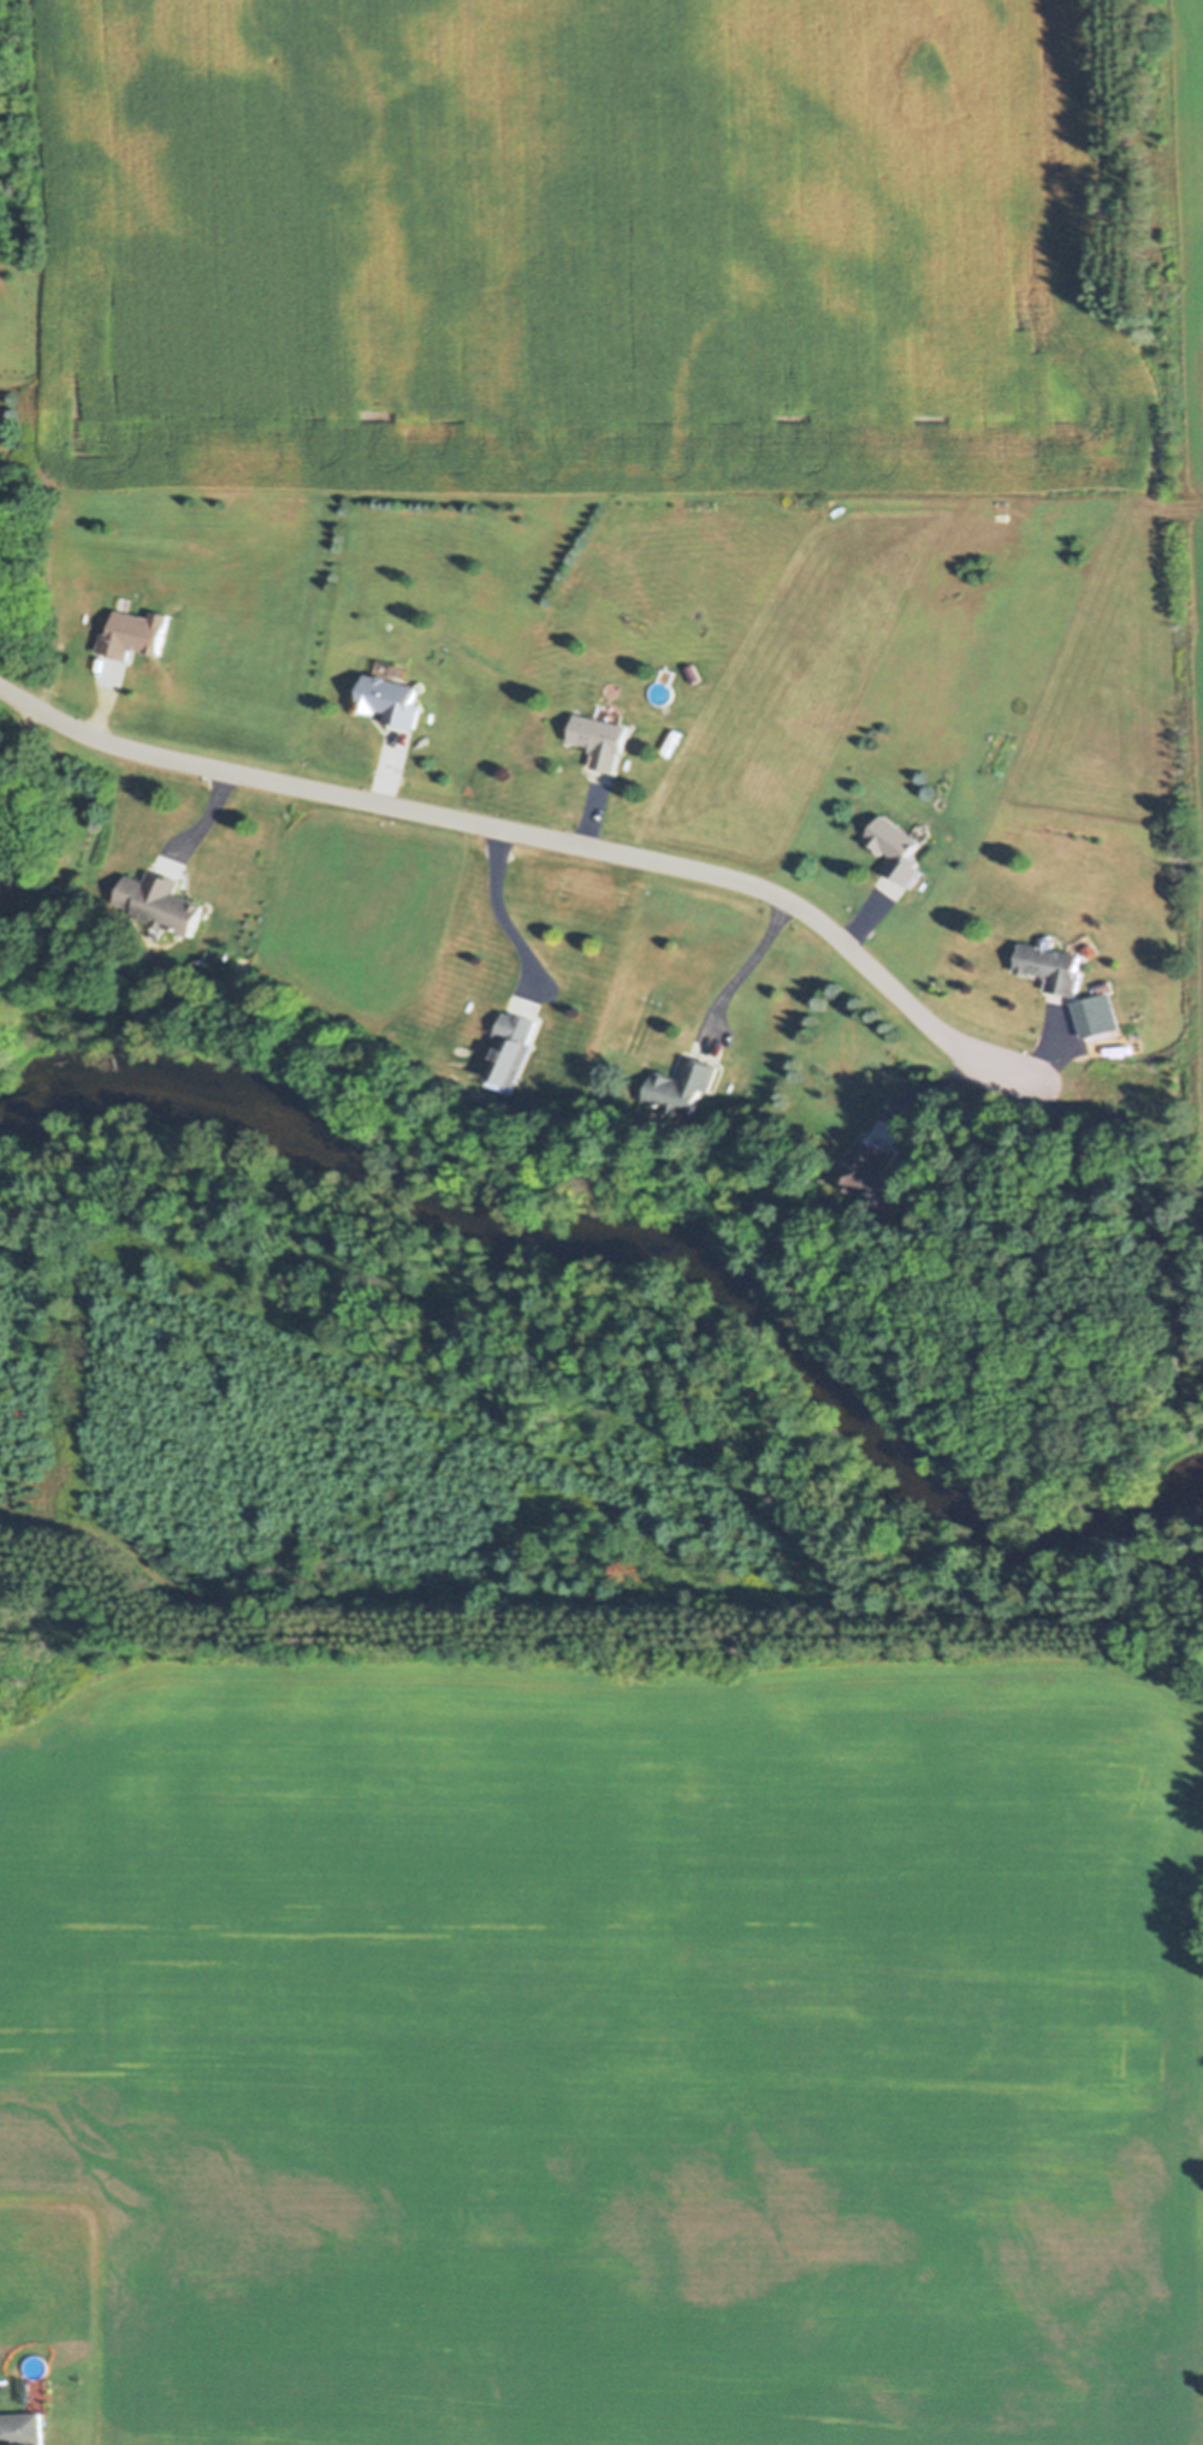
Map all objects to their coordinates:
building: (131, 634)
building: (389, 700)
building: (597, 741)
road: (535, 836)
building: (893, 849)
building: (159, 902)
road: (502, 908)
road: (751, 965)
building: (1050, 967)
building: (514, 1048)
building: (685, 1085)
building: (870, 1162)
river: (639, 1241)
building: (34, 2391)
building: (20, 2429)

